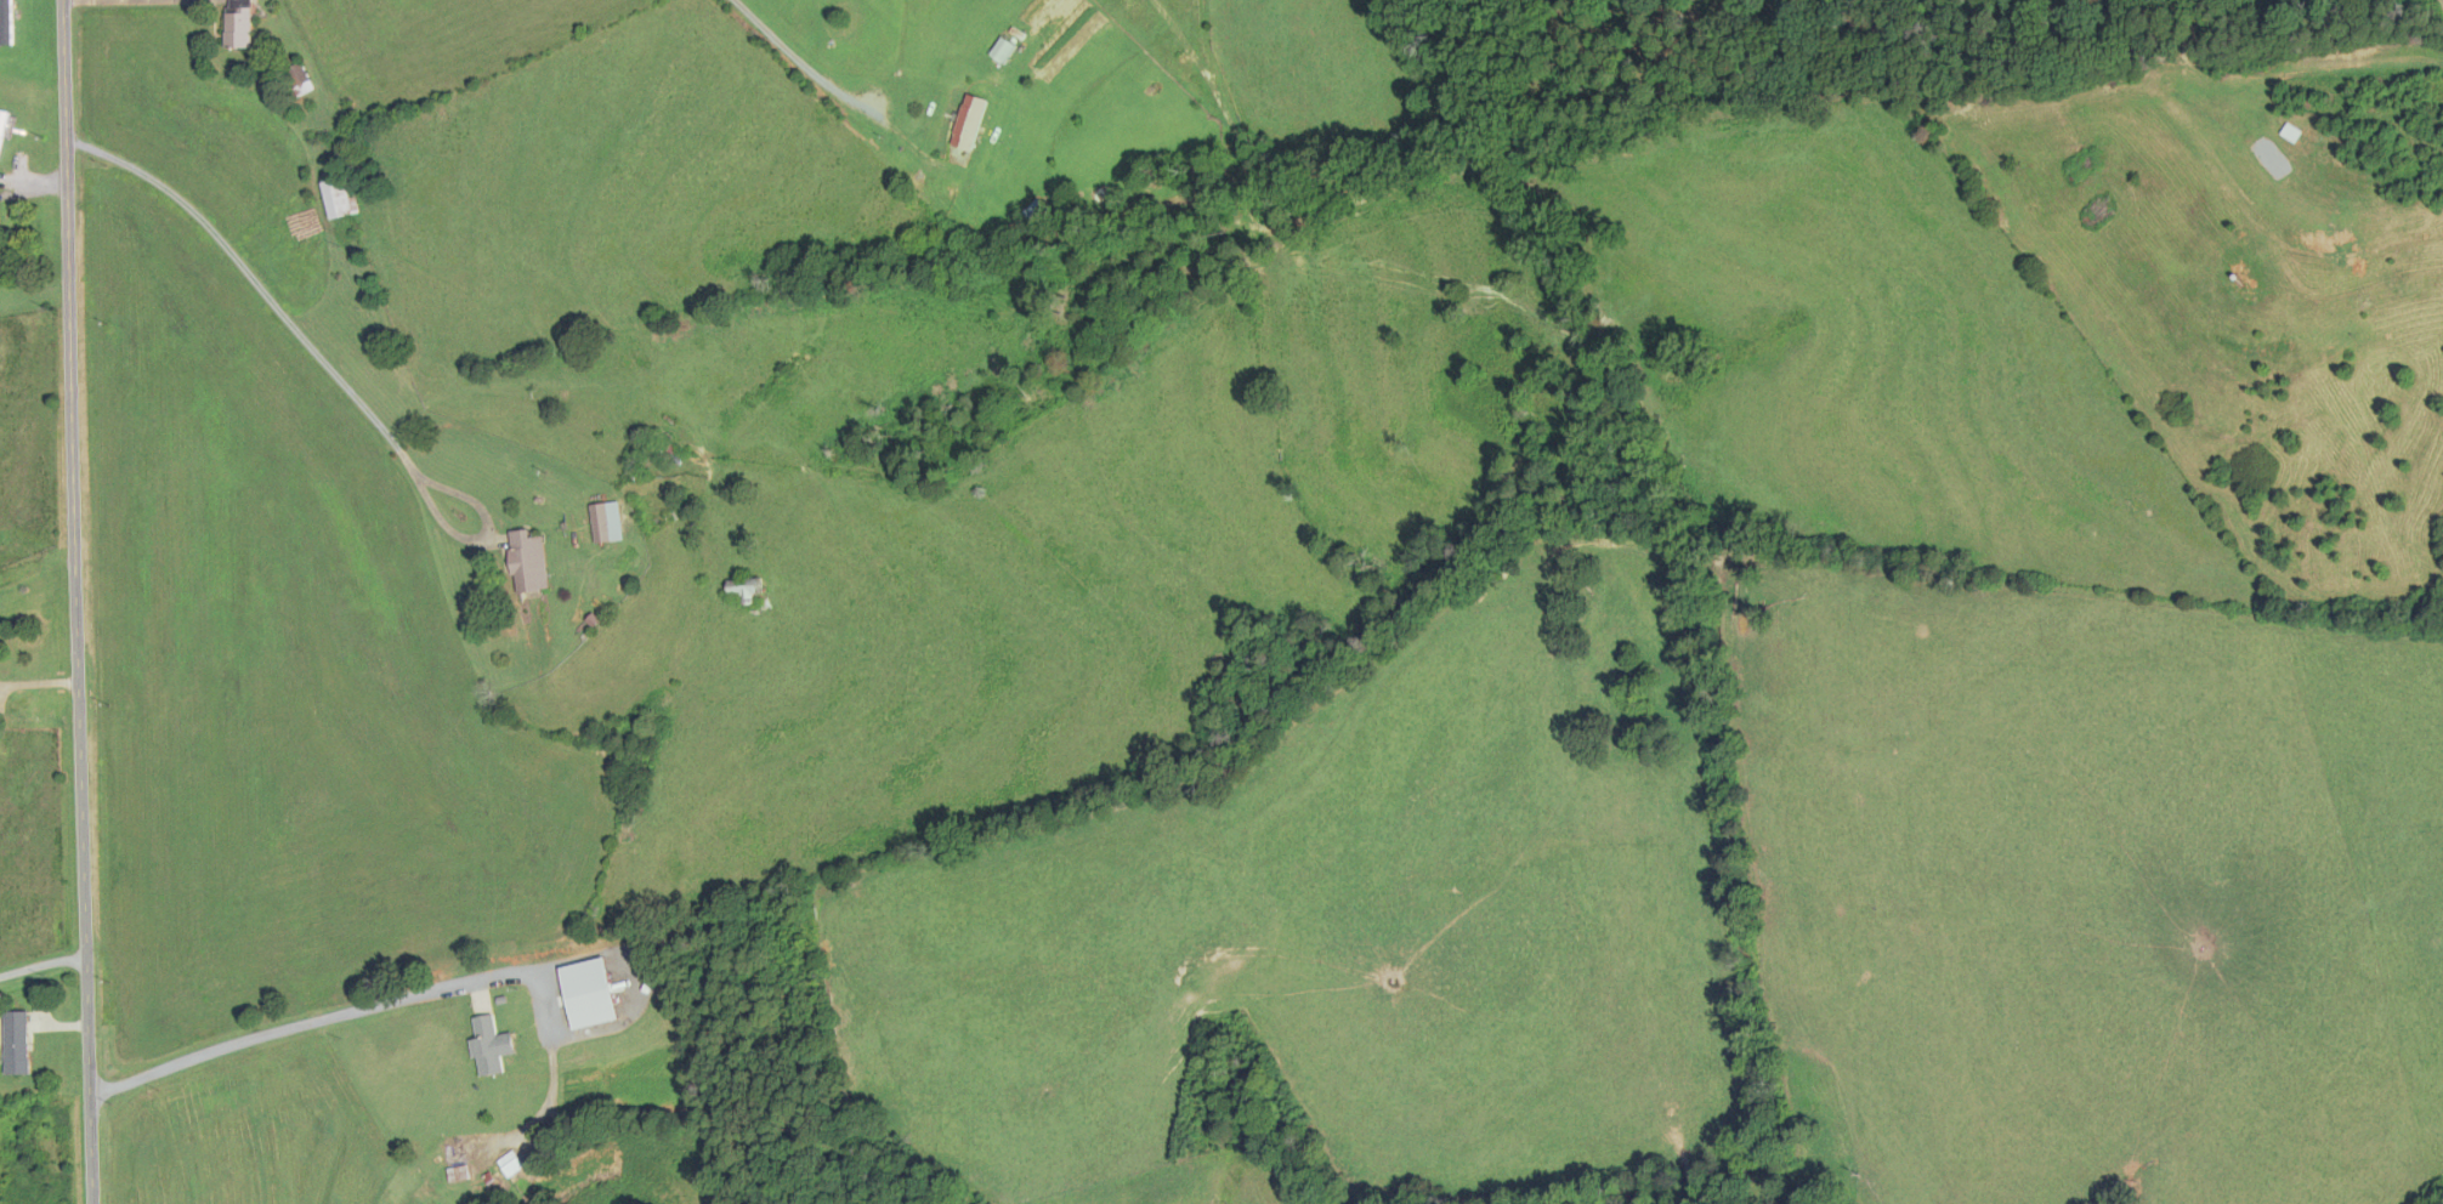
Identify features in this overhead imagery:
road: (2437, 7)
building: (6, 22)
building: (239, 23)
building: (1003, 50)
road: (826, 62)
building: (299, 79)
building: (970, 121)
building: (2, 124)
building: (340, 197)
road: (323, 359)
building: (664, 448)
building: (606, 518)
building: (529, 562)
building: (746, 586)
road: (75, 601)
road: (2387, 766)
road: (41, 961)
road: (297, 1024)
building: (16, 1043)
building: (491, 1045)
building: (458, 1174)

